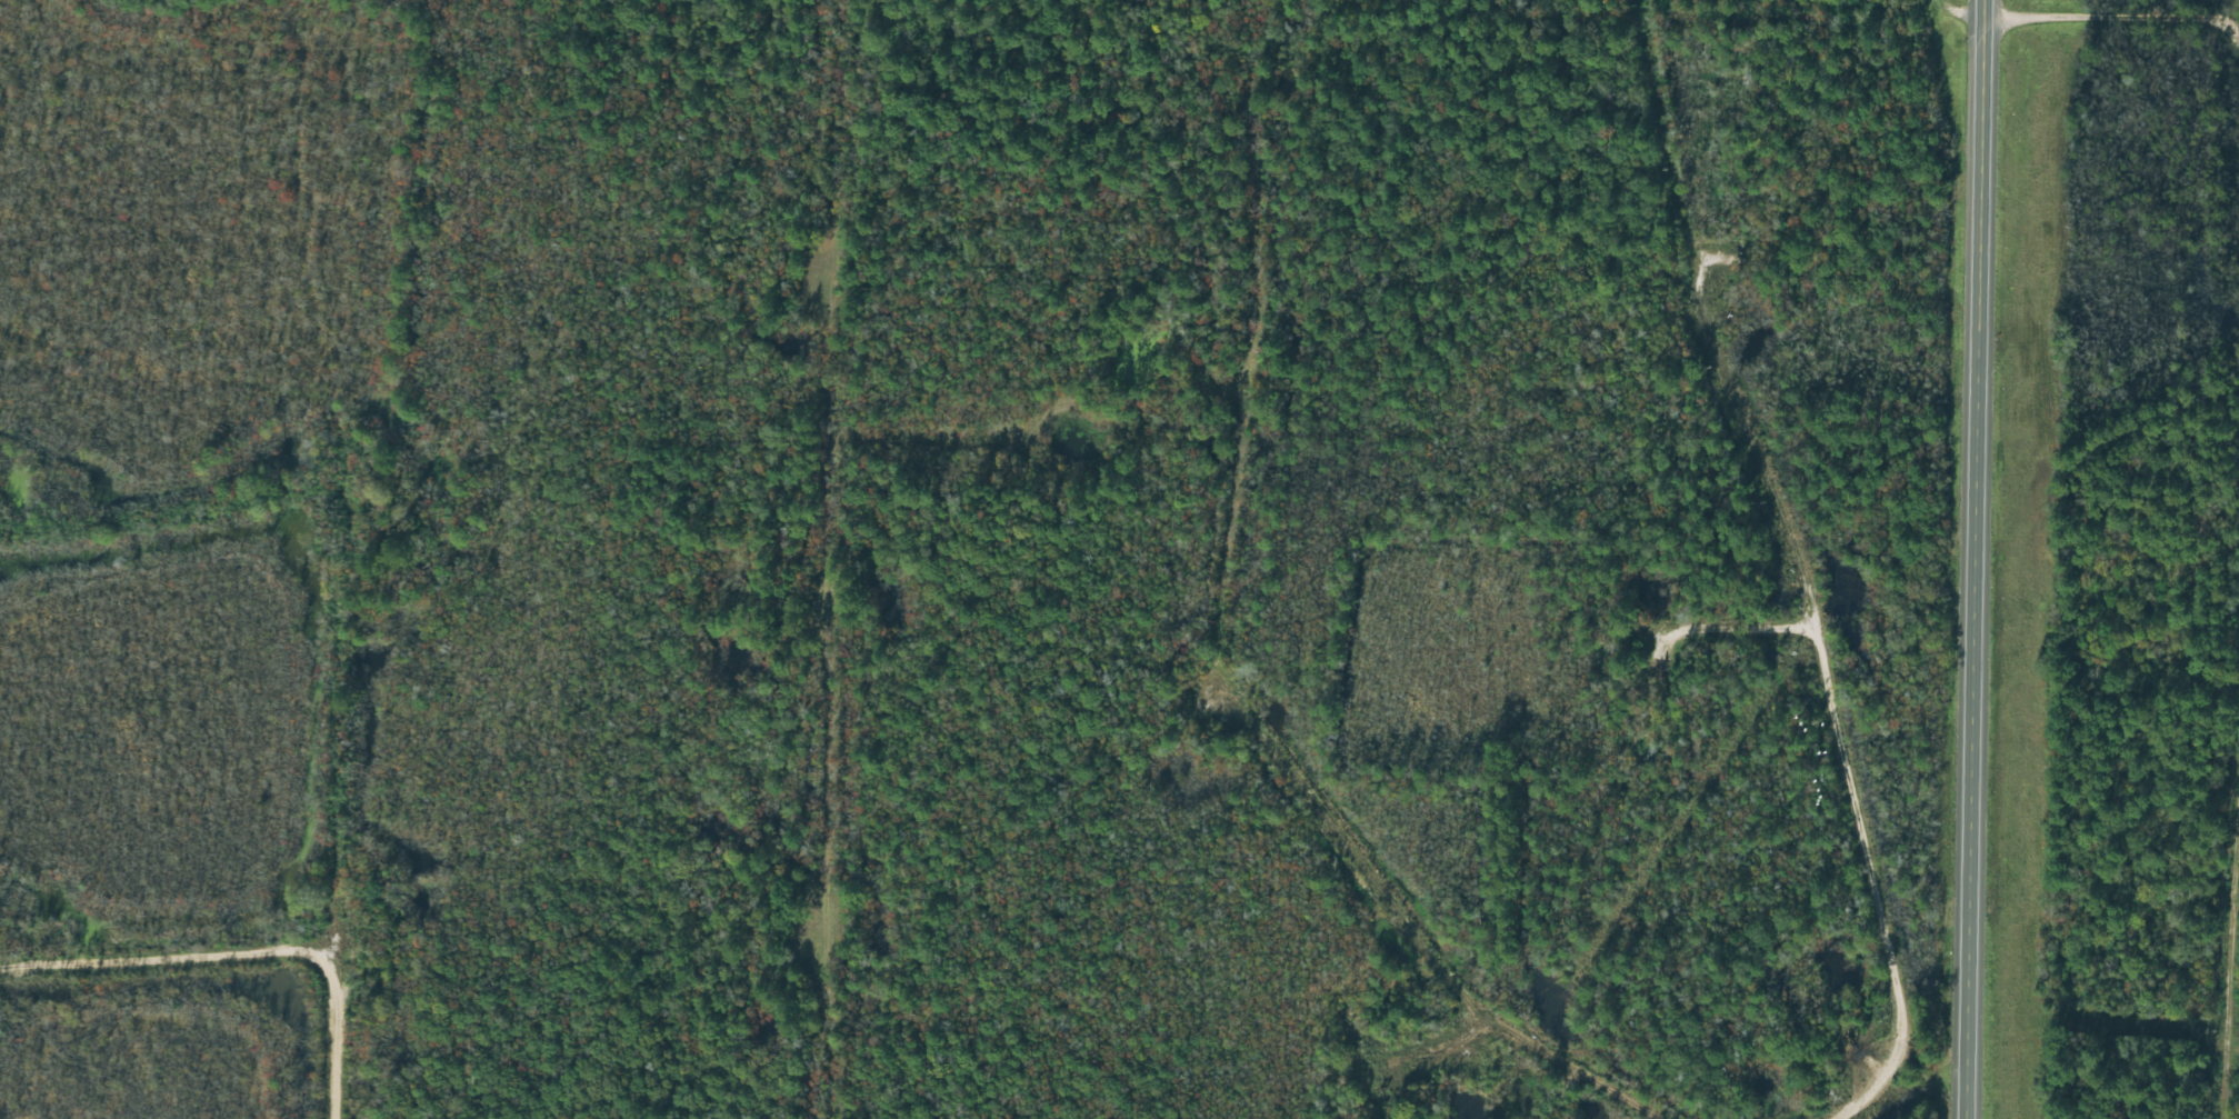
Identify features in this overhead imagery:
road: (1977, 10)
road: (2222, 236)
road: (884, 446)
road: (809, 559)
road: (1976, 559)
road: (1768, 563)
road: (328, 639)
road: (1713, 640)
road: (1245, 653)
road: (2229, 901)
road: (161, 938)

